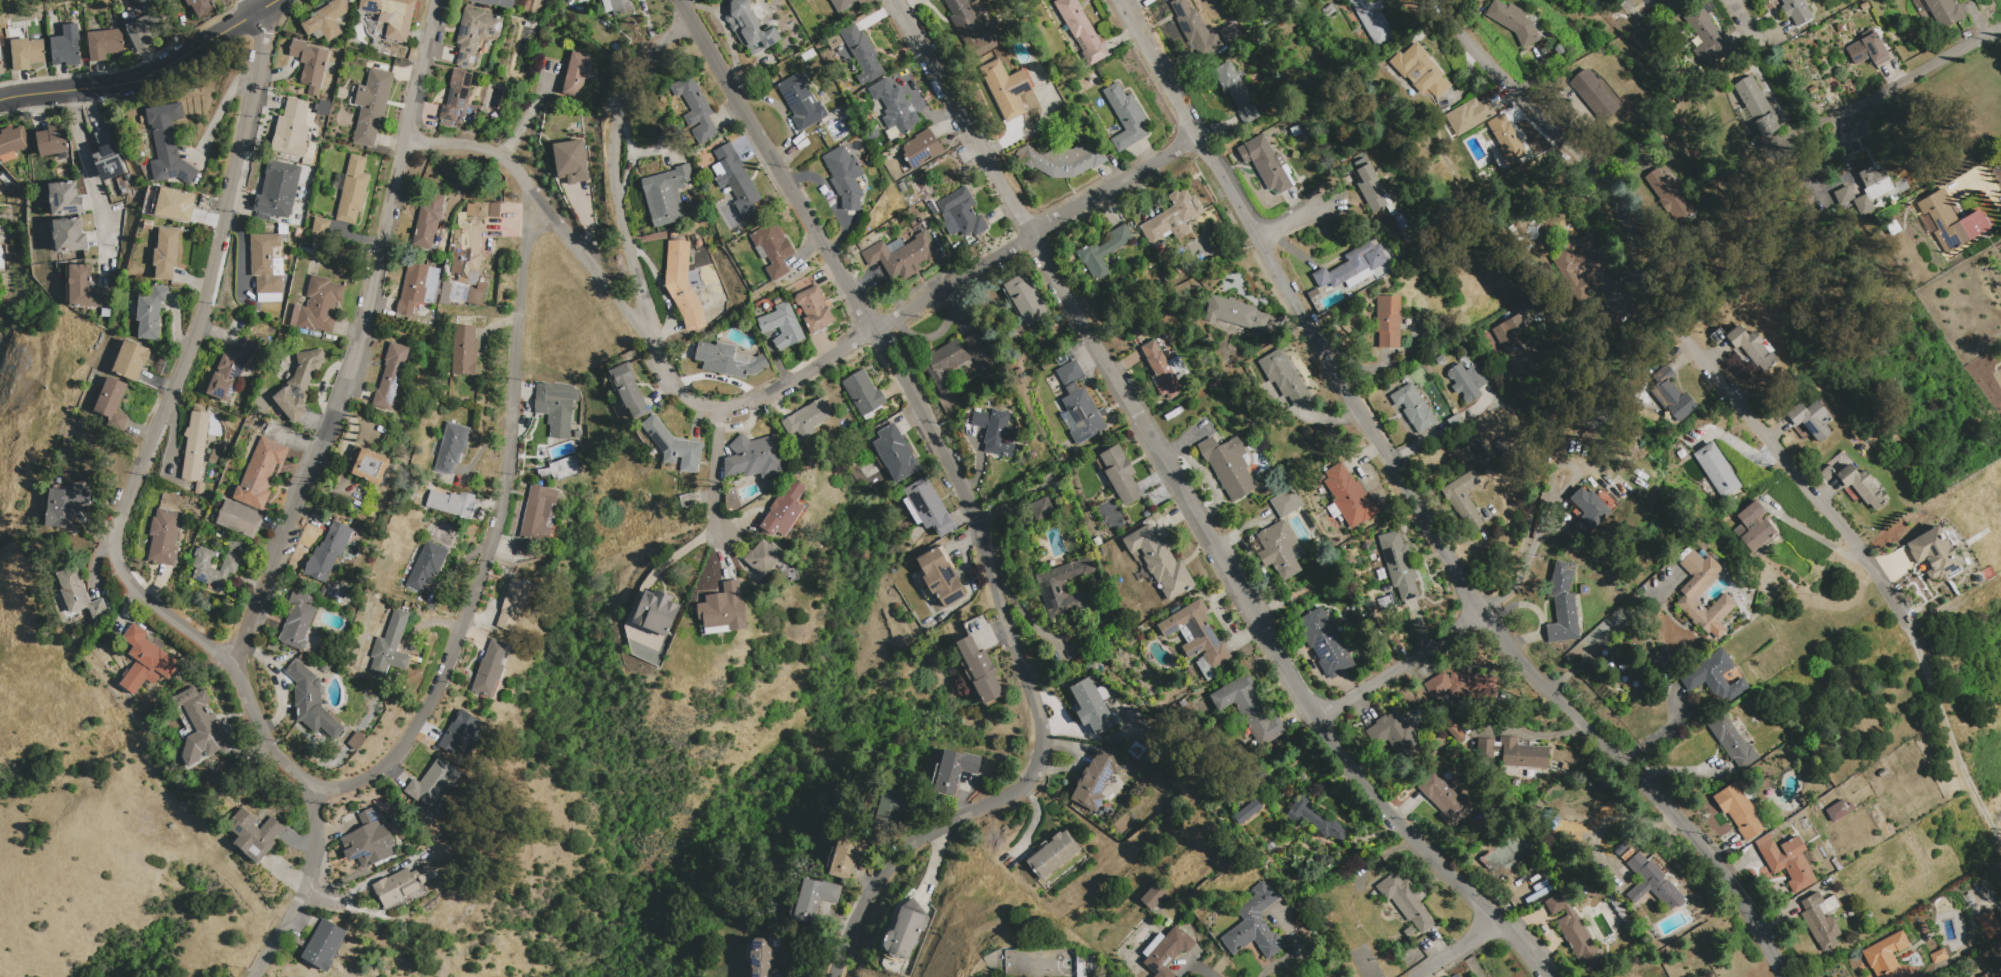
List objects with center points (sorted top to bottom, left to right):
building: (1470, 0)
building: (569, 1)
building: (1472, 1)
building: (494, 2)
building: (1666, 2)
building: (844, 4)
building: (527, 5)
building: (618, 6)
building: (201, 7)
building: (978, 7)
building: (1795, 11)
building: (1944, 12)
building: (392, 15)
building: (326, 20)
building: (1514, 21)
building: (1373, 22)
building: (748, 27)
building: (972, 27)
road: (1742, 27)
building: (1195, 29)
building: (1081, 30)
building: (143, 31)
building: (1228, 32)
building: (474, 34)
building: (1706, 35)
building: (104, 43)
building: (66, 46)
building: (1558, 50)
building: (1868, 50)
building: (27, 53)
building: (861, 53)
building: (309, 64)
building: (1, 68)
building: (1420, 70)
road: (146, 74)
building: (575, 74)
building: (1006, 88)
building: (1812, 89)
road: (1885, 90)
building: (1236, 91)
building: (1595, 94)
building: (456, 95)
building: (556, 99)
building: (801, 102)
building: (371, 105)
building: (894, 106)
building: (323, 107)
building: (695, 108)
building: (1758, 112)
road: (217, 114)
building: (1469, 115)
building: (1125, 116)
building: (291, 129)
building: (1295, 131)
building: (52, 139)
building: (1506, 139)
building: (12, 143)
building: (168, 145)
building: (921, 148)
building: (743, 149)
building: (107, 155)
building: (1061, 159)
building: (570, 161)
road: (616, 162)
building: (1265, 163)
road: (90, 170)
road: (1975, 170)
building: (128, 177)
building: (844, 177)
building: (737, 181)
building: (1875, 182)
building: (902, 187)
building: (1371, 187)
building: (278, 188)
building: (353, 189)
building: (666, 194)
building: (1671, 195)
building: (64, 199)
building: (173, 203)
building: (929, 204)
building: (963, 211)
building: (1172, 218)
road: (1297, 219)
building: (427, 220)
building: (1950, 221)
building: (147, 225)
building: (1892, 227)
building: (282, 228)
building: (320, 228)
building: (950, 228)
building: (68, 235)
building: (284, 238)
building: (471, 246)
building: (773, 248)
building: (1159, 249)
building: (1103, 251)
building: (166, 254)
road: (583, 254)
building: (900, 255)
building: (267, 263)
building: (1352, 264)
building: (1578, 266)
road: (961, 280)
building: (683, 285)
road: (207, 287)
building: (84, 288)
building: (412, 288)
building: (1313, 293)
building: (1026, 299)
building: (318, 306)
building: (814, 309)
building: (717, 311)
building: (151, 312)
building: (106, 313)
building: (1236, 313)
road: (1659, 313)
building: (1388, 322)
building: (782, 326)
road: (359, 340)
building: (1514, 343)
building: (1167, 344)
building: (1745, 346)
building: (464, 350)
building: (954, 359)
building: (1060, 359)
building: (1438, 359)
building: (131, 360)
building: (728, 360)
building: (1177, 366)
building: (231, 368)
building: (1161, 371)
building: (390, 376)
building: (1283, 376)
building: (1467, 380)
building: (299, 385)
building: (629, 390)
building: (863, 394)
building: (1668, 394)
building: (112, 402)
building: (1079, 404)
building: (556, 406)
building: (1413, 407)
building: (1812, 418)
building: (806, 420)
building: (1454, 421)
building: (994, 431)
building: (195, 445)
building: (451, 446)
building: (673, 446)
building: (217, 451)
building: (894, 453)
building: (755, 456)
building: (213, 459)
building: (368, 464)
building: (1228, 465)
building: (557, 468)
building: (1716, 469)
building: (260, 473)
building: (1120, 475)
road: (719, 476)
building: (1857, 484)
building: (1349, 497)
building: (1463, 499)
building: (449, 500)
building: (1285, 502)
road: (972, 504)
building: (65, 505)
building: (784, 508)
building: (927, 508)
building: (1041, 509)
road: (1194, 509)
road: (1420, 512)
building: (1588, 512)
building: (538, 513)
building: (239, 519)
building: (1752, 527)
road: (491, 528)
road: (1517, 536)
building: (164, 537)
road: (1815, 538)
building: (1096, 542)
building: (1365, 546)
building: (525, 549)
building: (1278, 549)
building: (1653, 549)
building: (1100, 551)
building: (328, 552)
building: (1934, 553)
building: (763, 556)
building: (1160, 562)
building: (427, 565)
road: (663, 565)
building: (1399, 565)
building: (202, 567)
building: (940, 577)
building: (1384, 586)
building: (1064, 587)
building: (1583, 589)
building: (1690, 591)
building: (79, 593)
building: (513, 603)
building: (1384, 604)
building: (1562, 604)
building: (723, 609)
building: (655, 612)
building: (298, 620)
road: (1613, 628)
building: (1196, 633)
building: (1324, 643)
building: (390, 645)
building: (145, 660)
building: (1661, 663)
road: (229, 666)
building: (490, 669)
building: (980, 670)
building: (1713, 677)
building: (1460, 685)
building: (311, 700)
building: (1091, 705)
building: (1249, 708)
building: (1133, 715)
road: (1051, 724)
building: (198, 727)
building: (1453, 729)
road: (1660, 730)
building: (460, 731)
road: (1078, 731)
road: (1530, 734)
building: (1393, 736)
road: (1950, 736)
building: (1731, 742)
building: (1513, 752)
building: (953, 770)
building: (1529, 773)
building: (1881, 773)
building: (1446, 775)
building: (1095, 779)
building: (1515, 782)
building: (433, 783)
building: (1443, 798)
building: (1738, 810)
building: (1838, 810)
building: (890, 811)
building: (1249, 811)
building: (1551, 818)
building: (1314, 819)
building: (253, 834)
building: (368, 840)
building: (847, 854)
building: (1053, 854)
building: (1786, 861)
building: (1652, 876)
building: (402, 883)
road: (301, 891)
building: (1538, 893)
building: (1153, 896)
building: (814, 898)
building: (1404, 900)
building: (1821, 920)
building: (1255, 924)
building: (1988, 924)
building: (905, 930)
building: (1409, 931)
building: (1574, 932)
building: (324, 945)
road: (1456, 950)
building: (1947, 950)
building: (1166, 951)
building: (759, 956)
building: (1937, 956)
building: (1888, 957)
building: (1985, 974)

